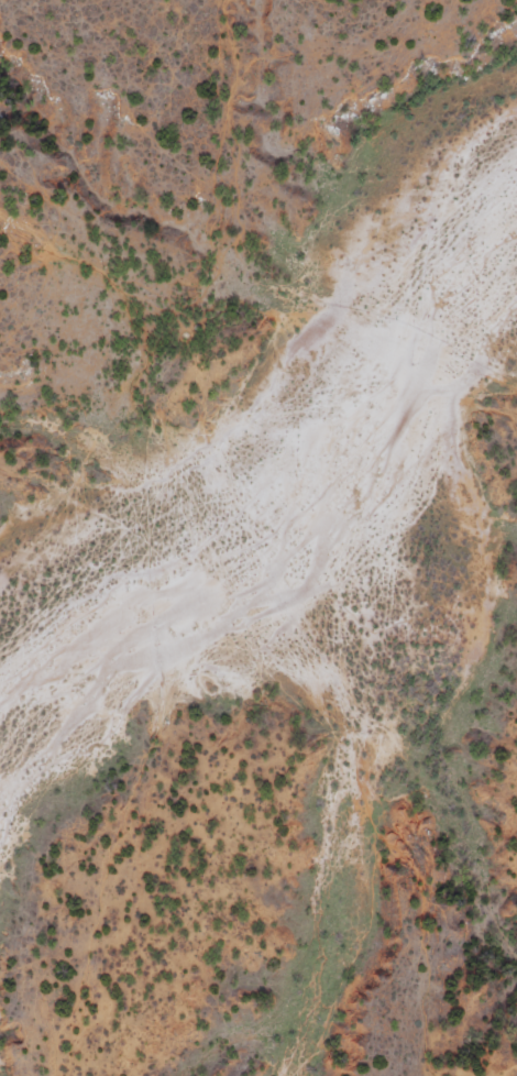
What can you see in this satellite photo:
road: (102, 369)

